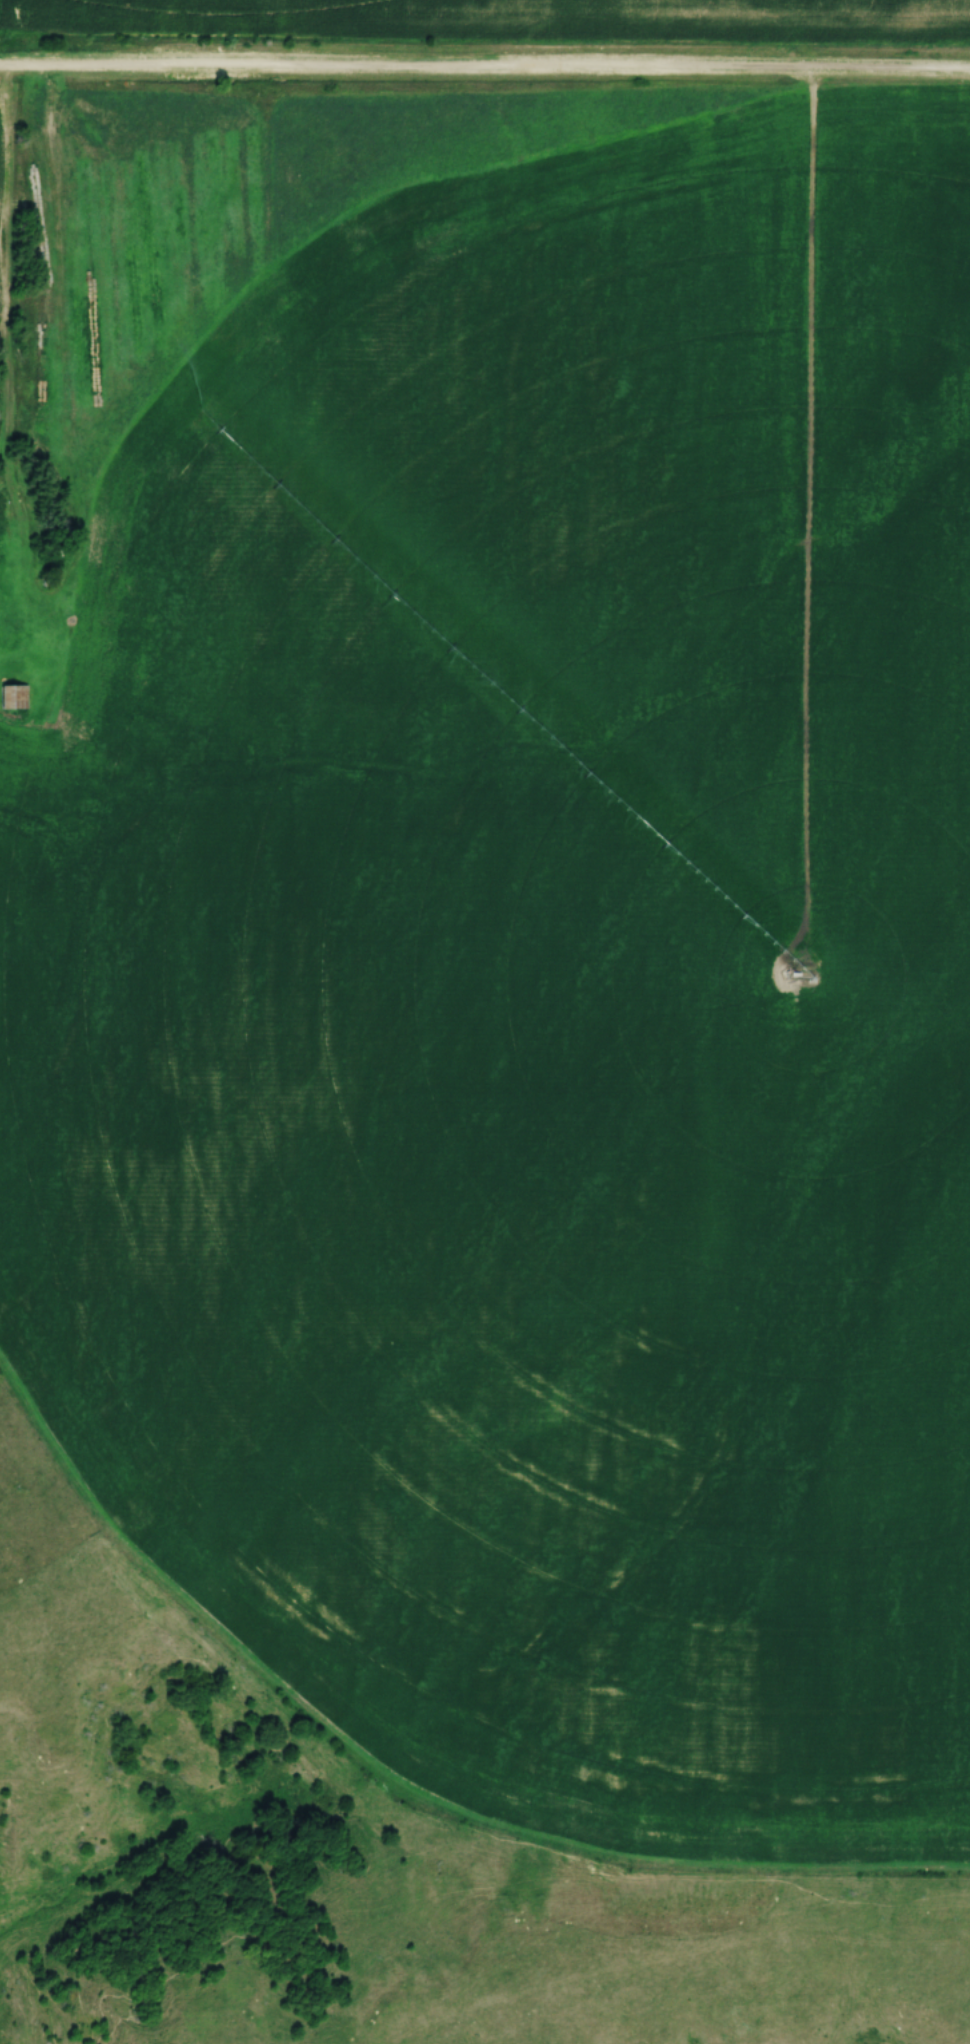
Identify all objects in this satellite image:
road: (485, 60)
building: (13, 699)

